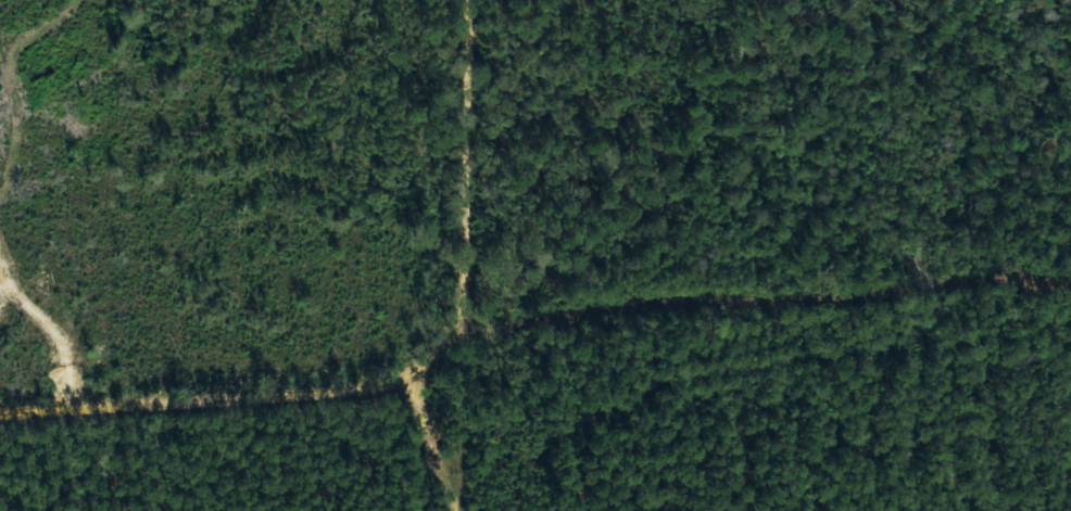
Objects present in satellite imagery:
road: (458, 196)
road: (211, 401)

